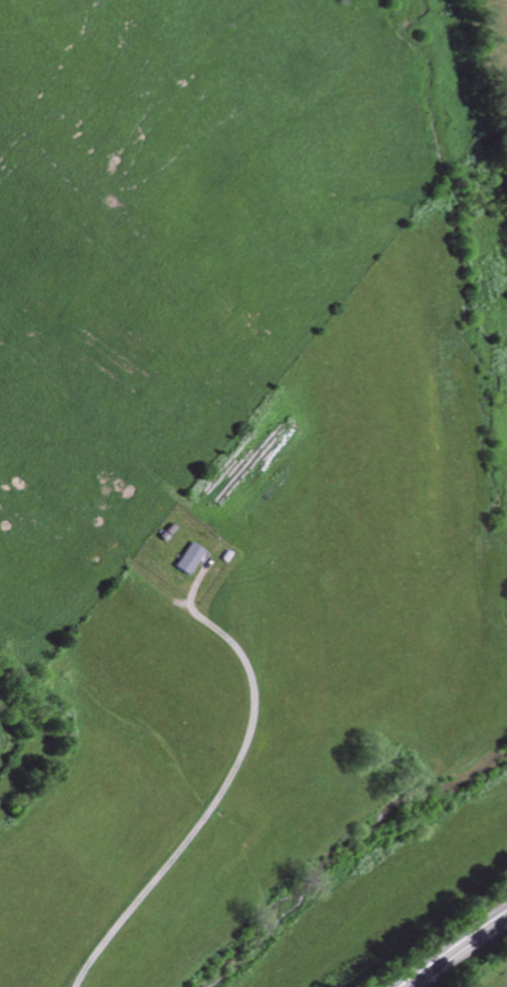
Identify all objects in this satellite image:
building: (191, 558)
road: (217, 789)
railway: (452, 946)
railway: (459, 953)

